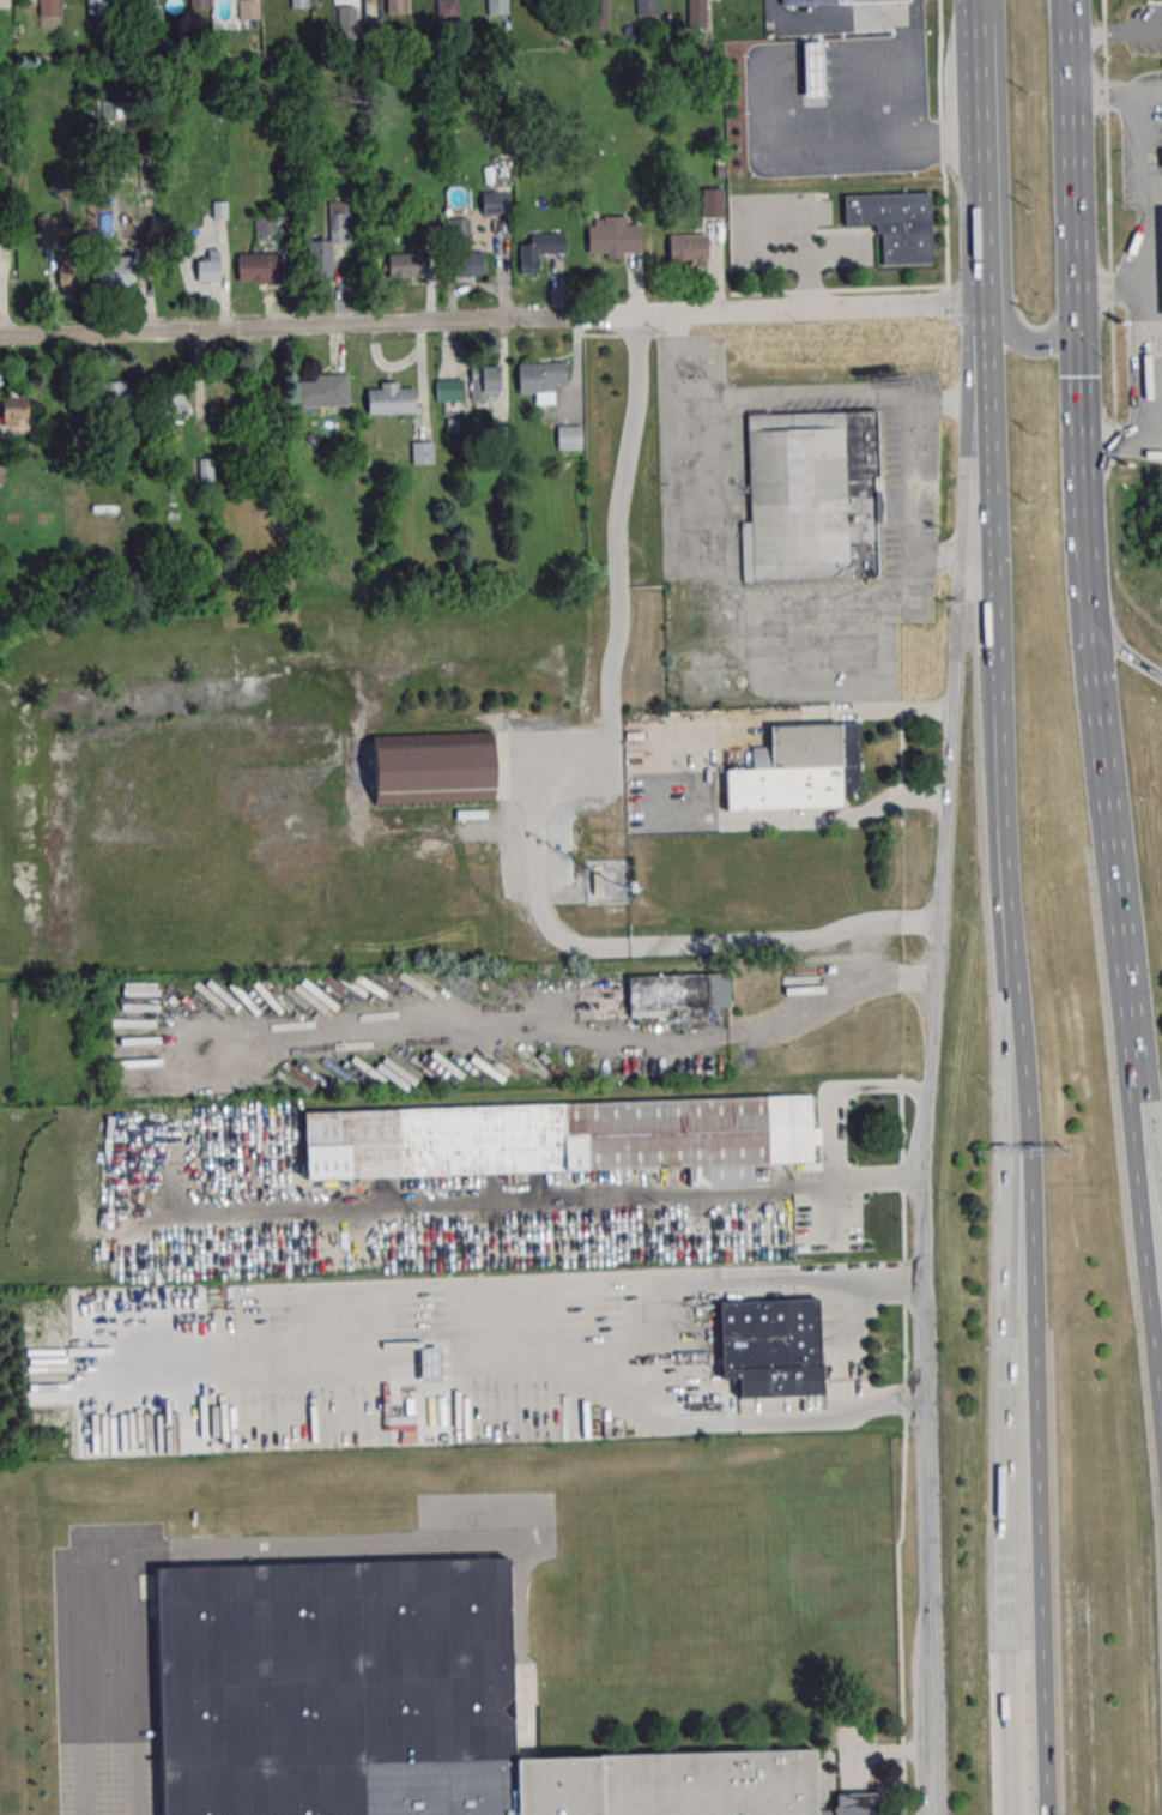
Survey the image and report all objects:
building: (866, 1)
building: (1152, 1)
building: (806, 2)
building: (199, 4)
building: (299, 4)
building: (397, 6)
building: (497, 6)
building: (49, 7)
building: (98, 7)
building: (646, 7)
building: (248, 10)
building: (447, 10)
building: (597, 13)
building: (696, 13)
road: (845, 14)
building: (346, 18)
road: (969, 24)
road: (1115, 34)
road: (866, 56)
road: (815, 60)
building: (813, 67)
road: (1115, 94)
road: (942, 141)
road: (1136, 143)
road: (849, 145)
road: (1070, 165)
road: (975, 179)
building: (495, 203)
building: (712, 203)
building: (265, 224)
building: (895, 225)
building: (460, 231)
parking lot: (791, 234)
building: (613, 236)
building: (331, 240)
building: (688, 247)
building: (539, 251)
building: (1160, 252)
building: (467, 264)
building: (406, 265)
building: (208, 266)
building: (256, 267)
road: (1144, 269)
building: (69, 273)
building: (116, 273)
road: (811, 313)
road: (321, 327)
traffic signals: (1075, 331)
road: (1154, 333)
road: (1023, 343)
road: (984, 350)
road: (1146, 362)
road: (678, 369)
building: (540, 380)
building: (485, 381)
building: (321, 391)
building: (119, 393)
building: (450, 394)
building: (173, 397)
building: (391, 399)
building: (14, 414)
road: (1120, 439)
building: (569, 440)
building: (423, 452)
building: (204, 468)
road: (921, 476)
road: (1079, 482)
building: (812, 495)
road: (991, 530)
road: (716, 595)
road: (817, 601)
road: (956, 658)
road: (1124, 658)
building: (431, 767)
building: (798, 770)
road: (642, 774)
road: (540, 808)
road: (1108, 858)
building: (597, 882)
building: (677, 991)
road: (553, 1031)
road: (839, 1091)
road: (1149, 1132)
building: (564, 1139)
road: (882, 1181)
road: (497, 1204)
road: (1006, 1240)
road: (1028, 1240)
road: (1149, 1262)
building: (771, 1346)
road: (585, 1349)
road: (922, 1369)
road: (740, 1421)
road: (181, 1560)
road: (900, 1620)
building: (399, 1707)

